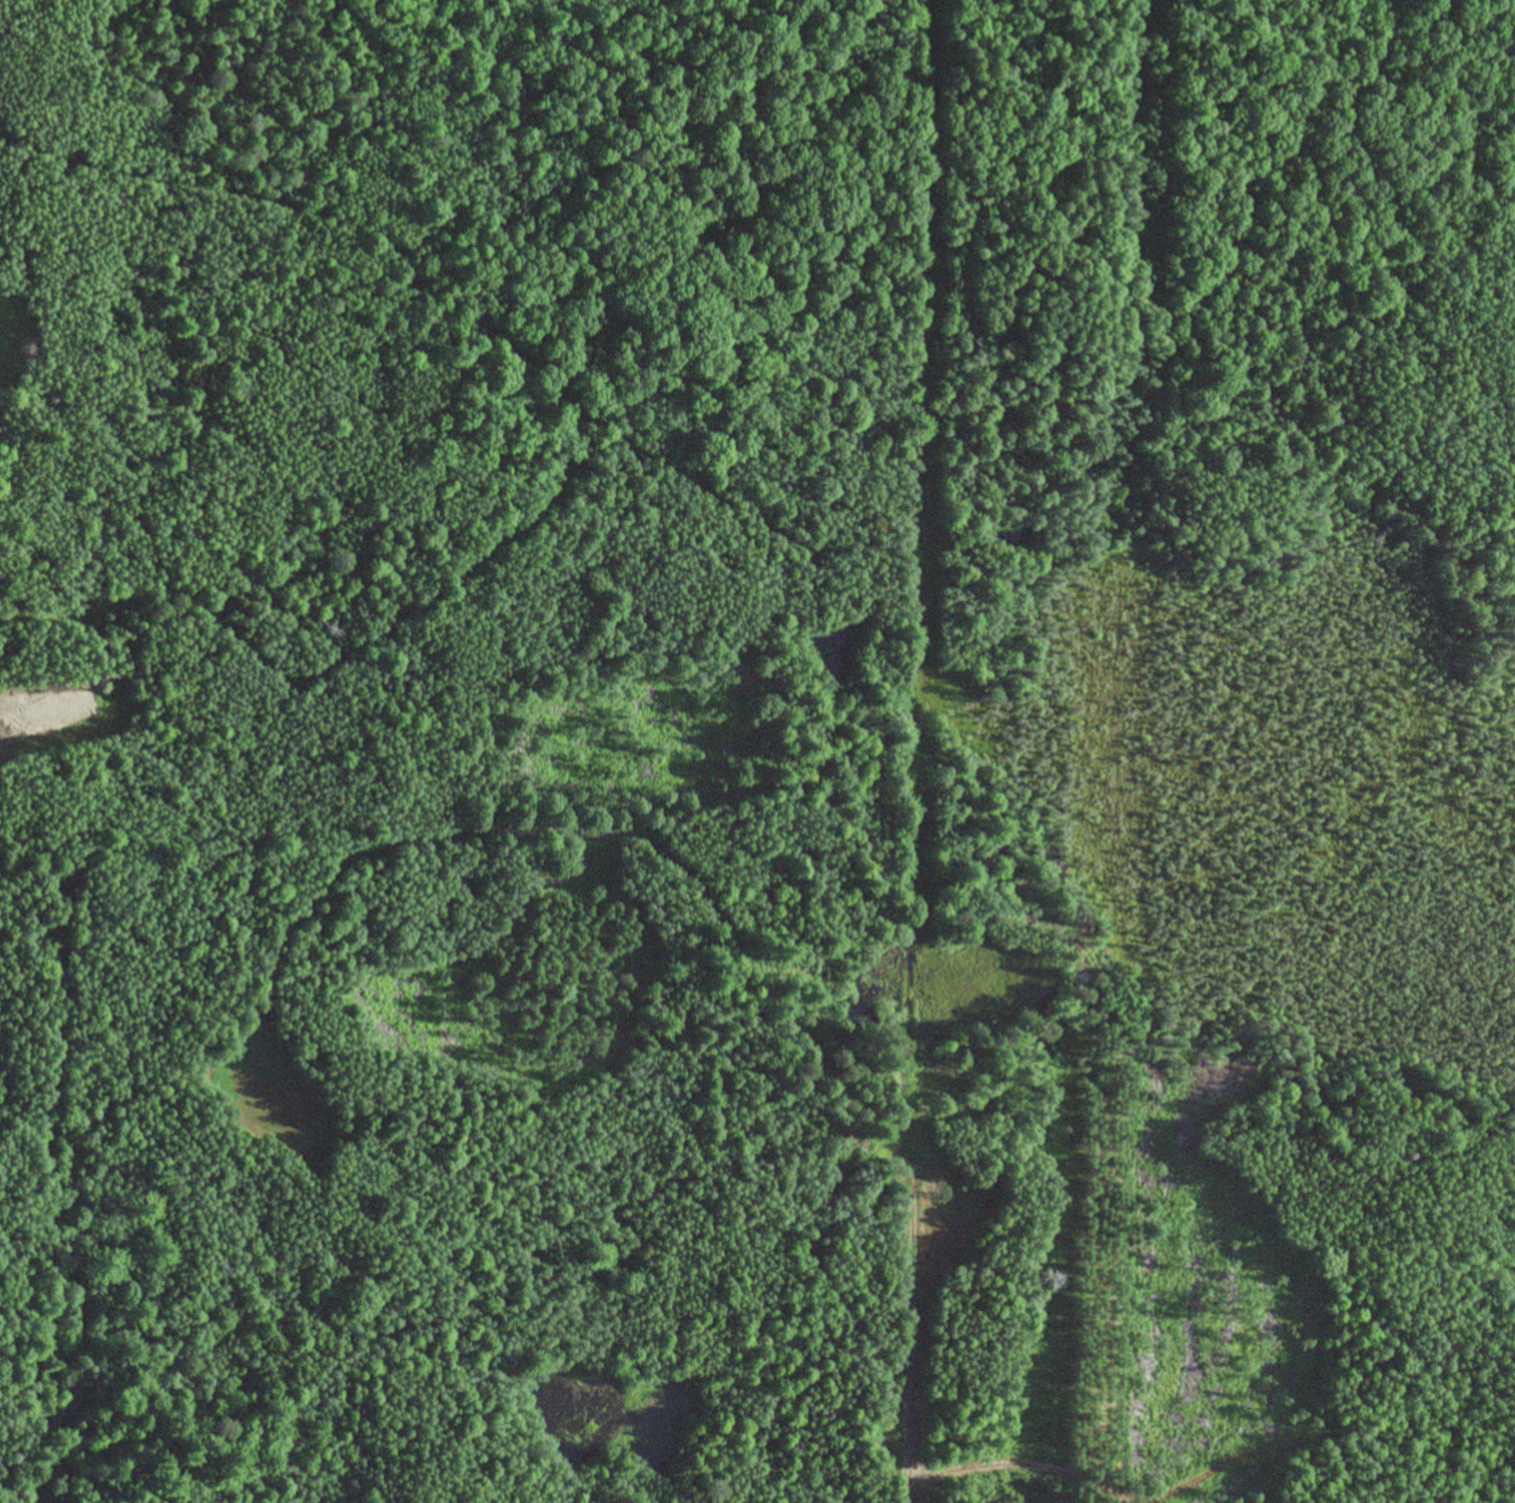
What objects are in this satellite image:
quarry: (12, 335)

